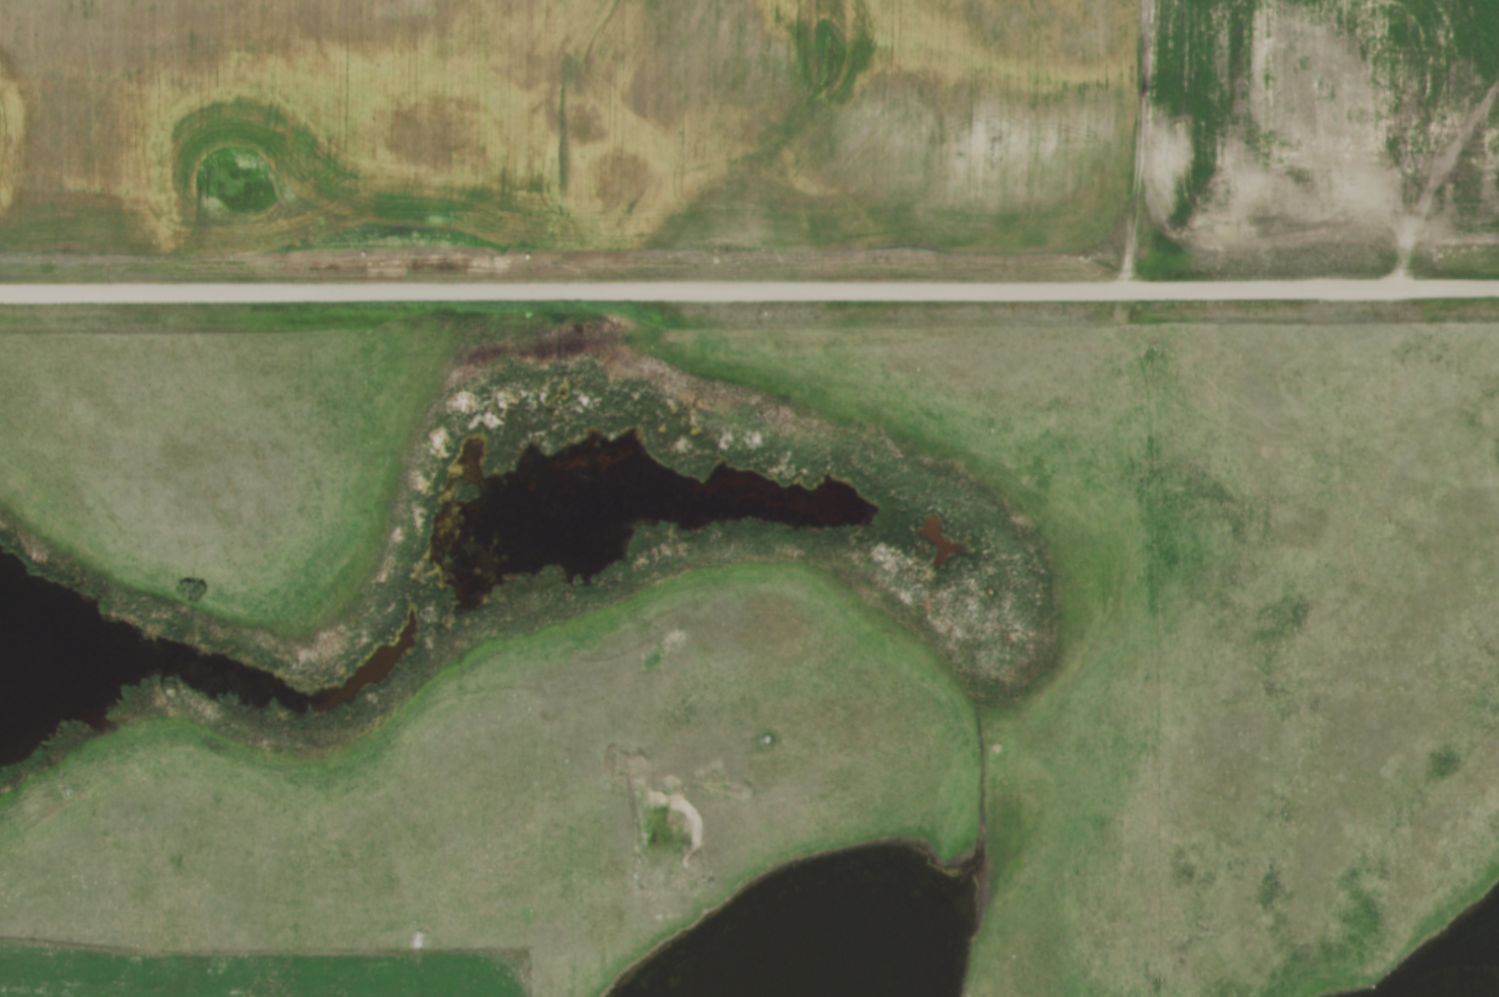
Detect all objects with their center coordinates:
road: (1171, 145)
road: (749, 291)

